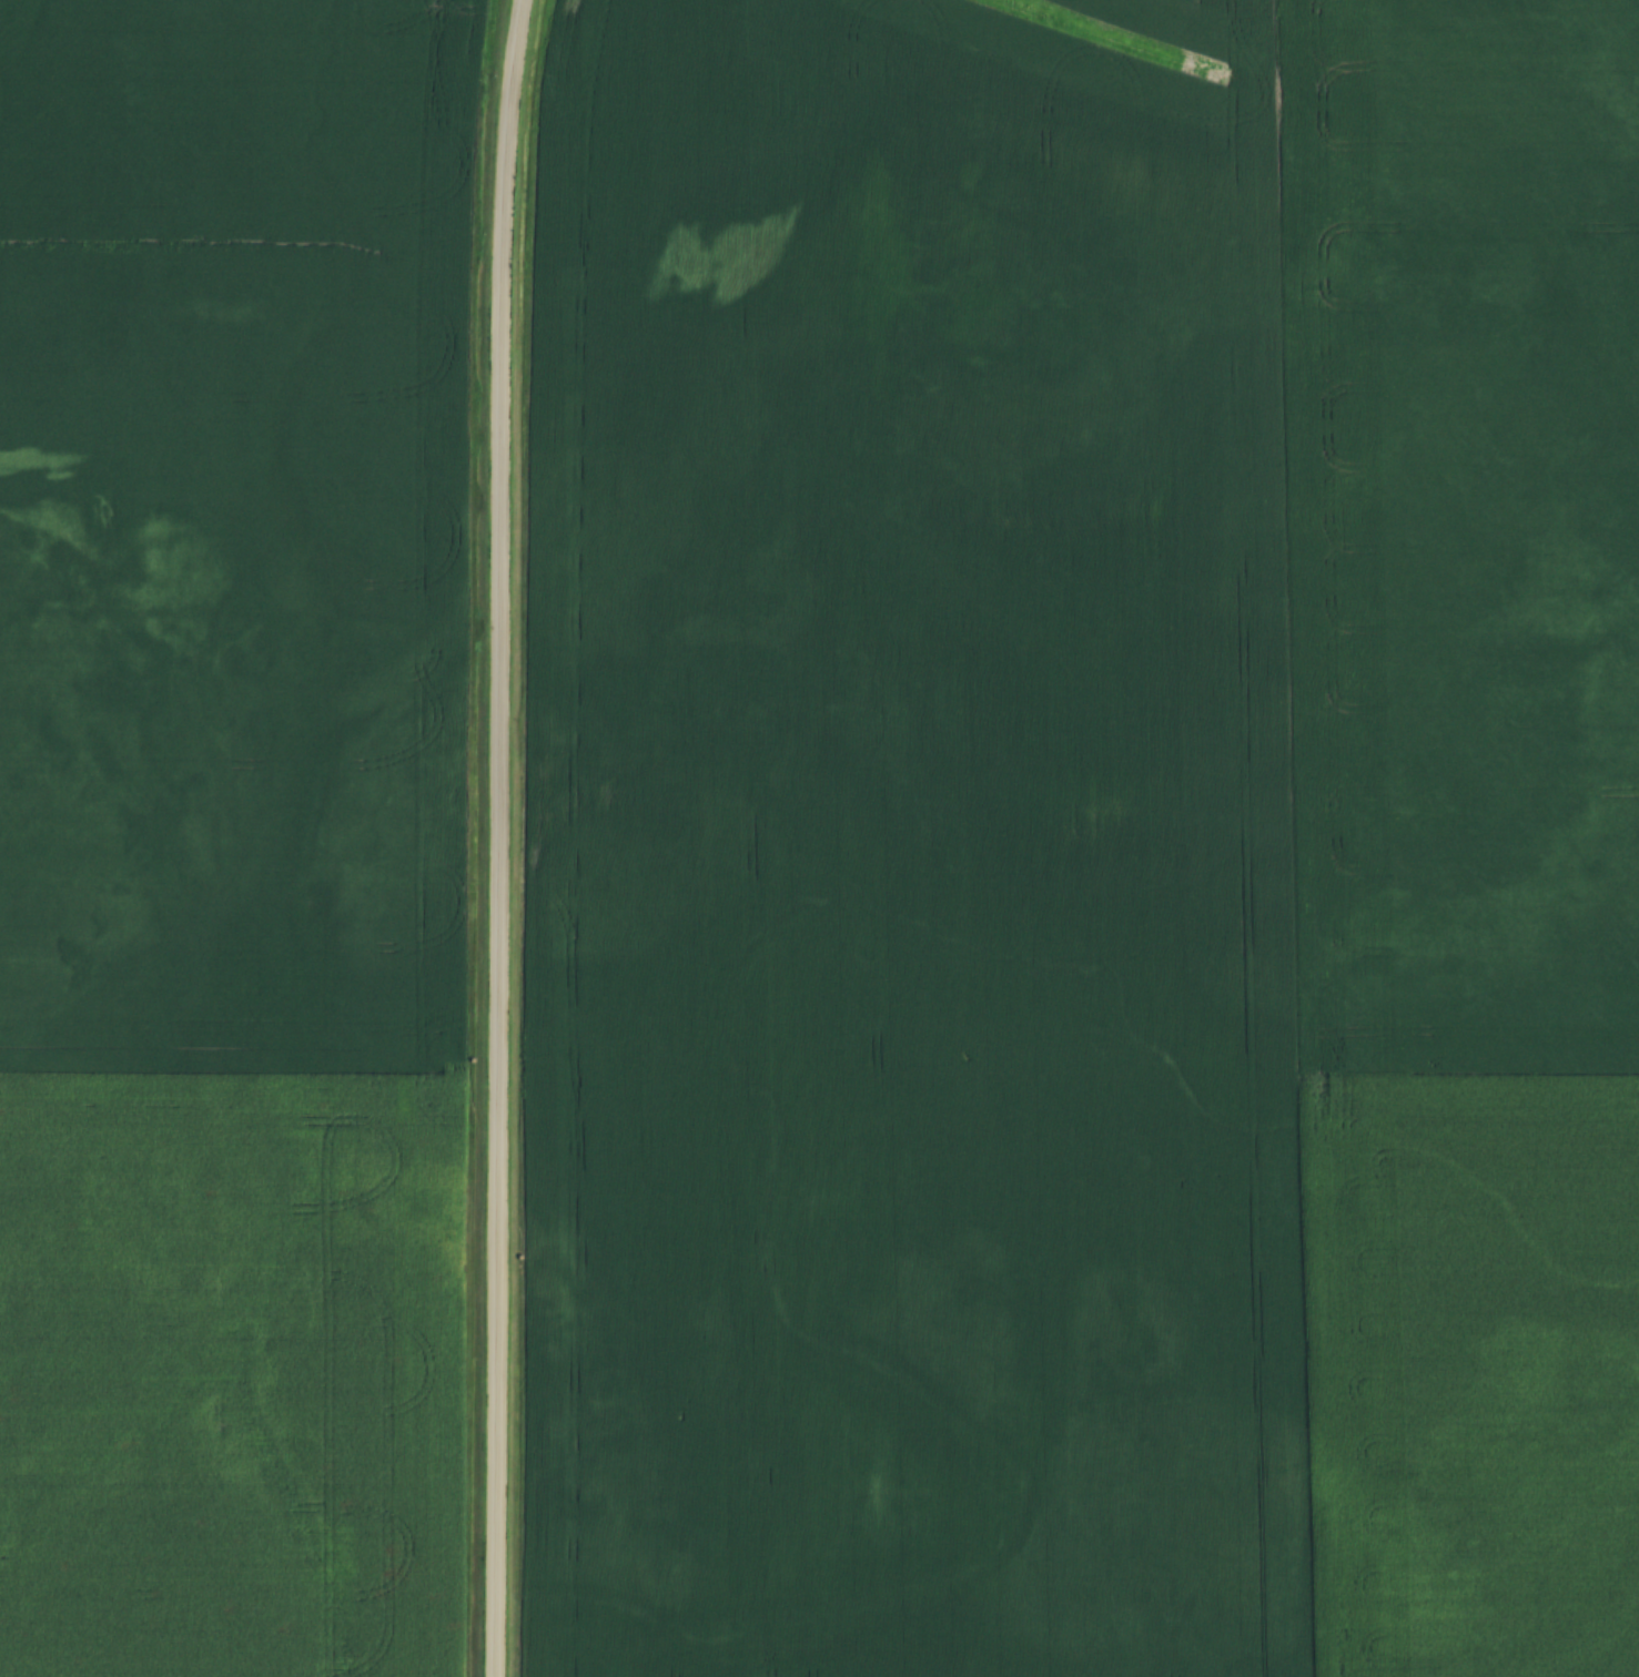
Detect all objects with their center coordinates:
road: (502, 837)

